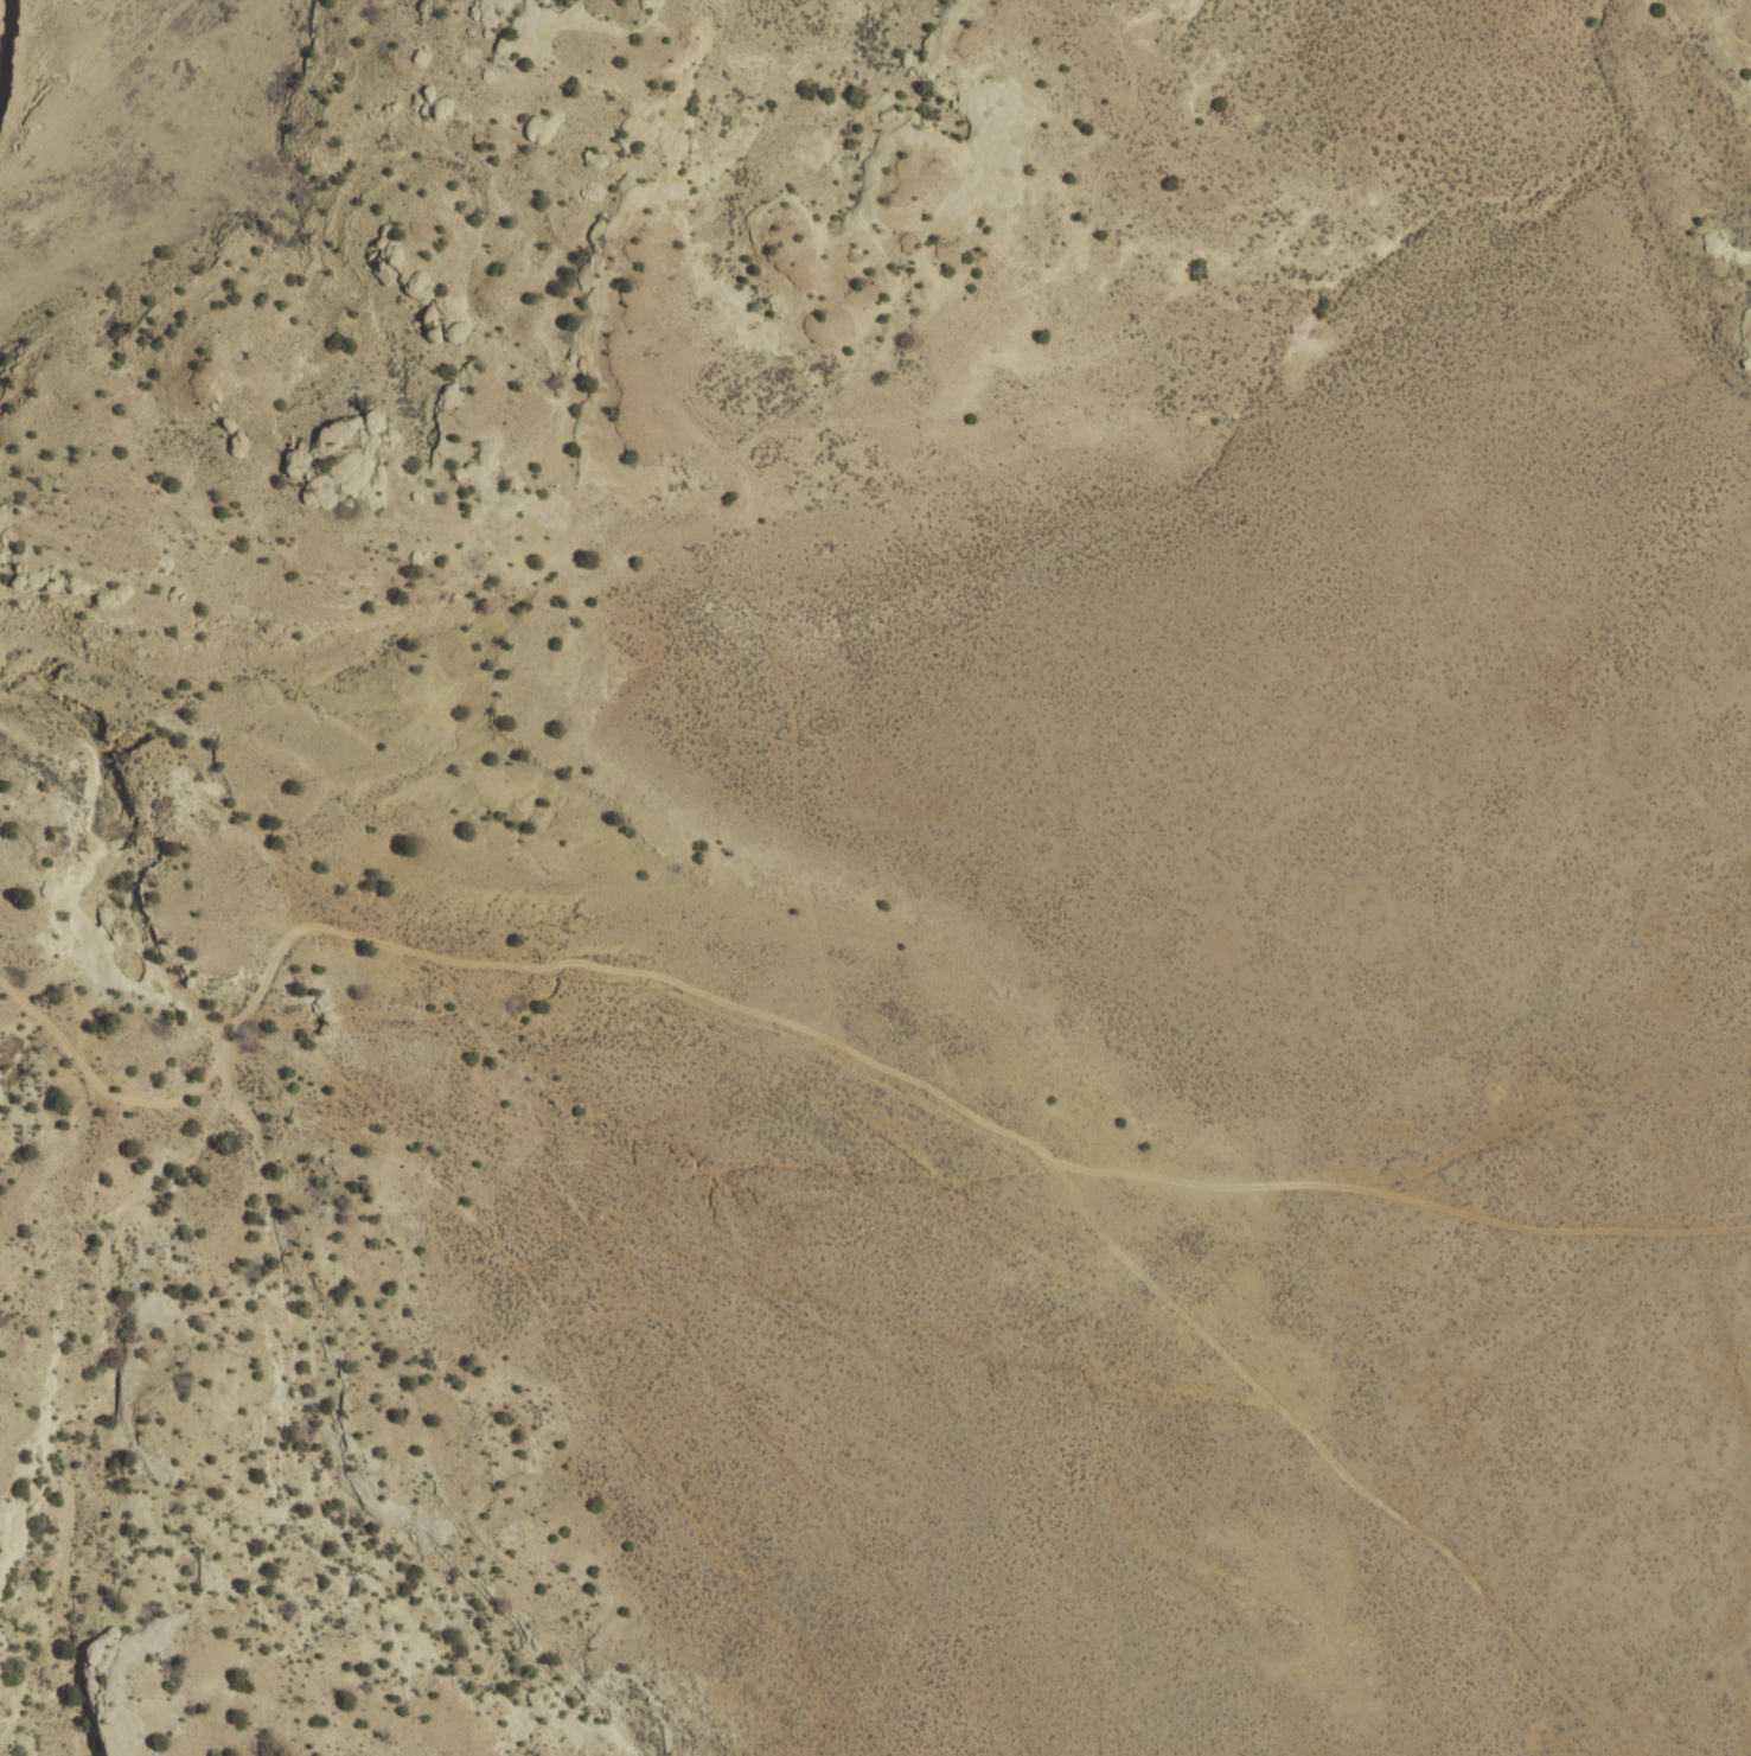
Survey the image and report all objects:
road: (685, 1467)

